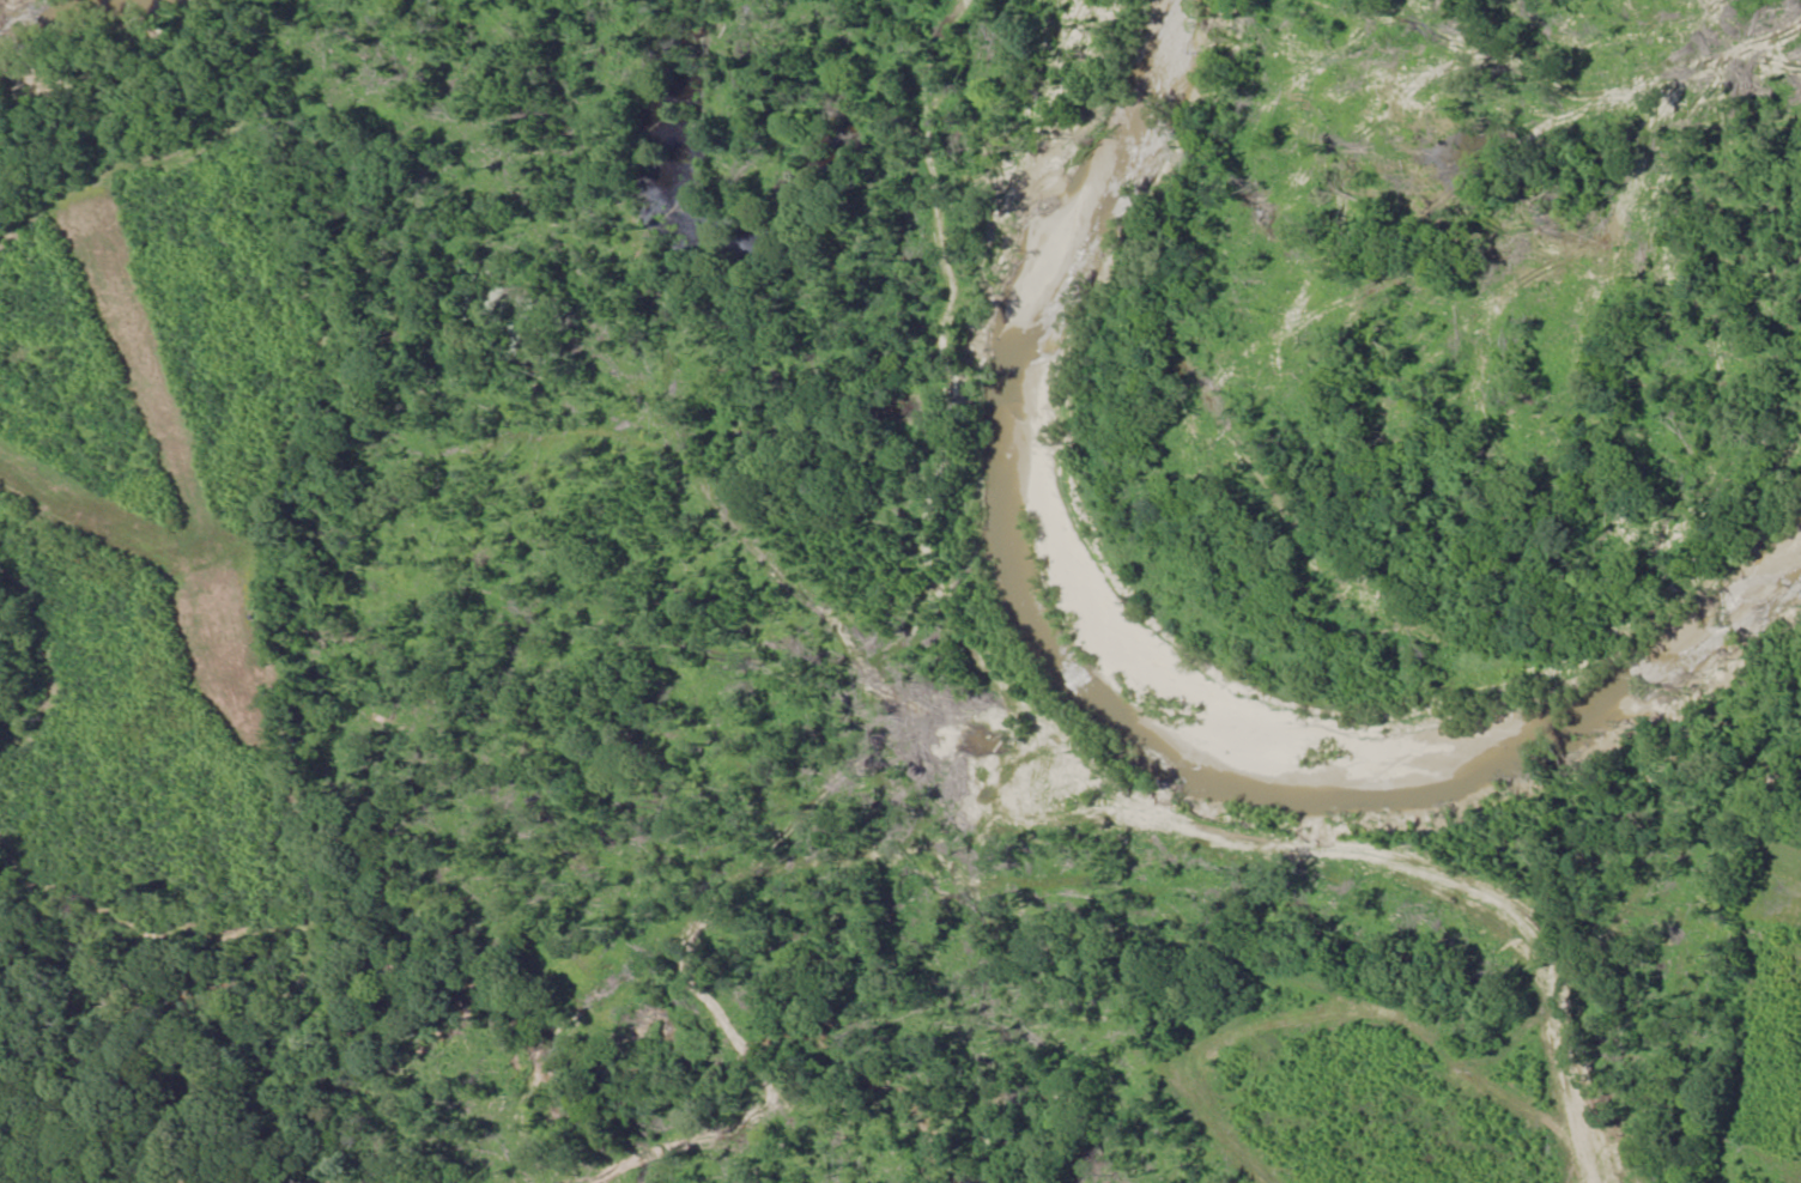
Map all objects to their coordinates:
road: (1603, 357)

